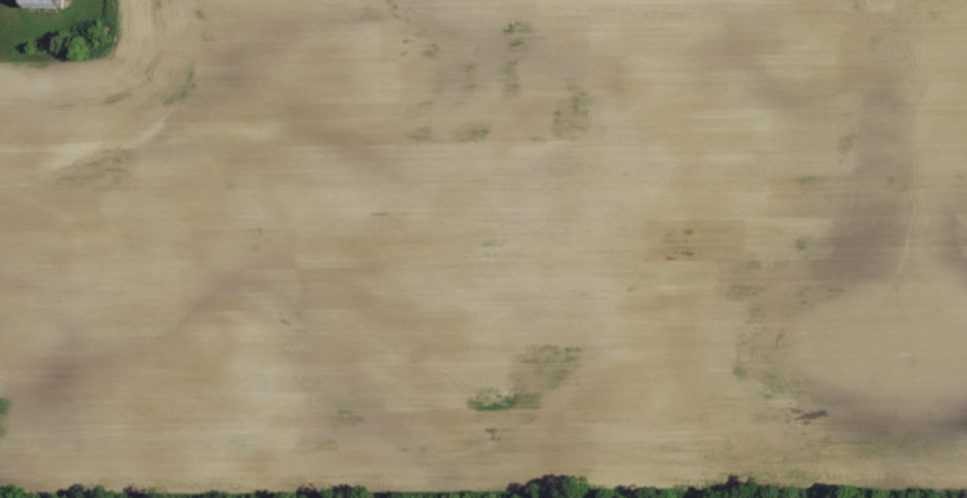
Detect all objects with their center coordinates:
building: (40, 3)

